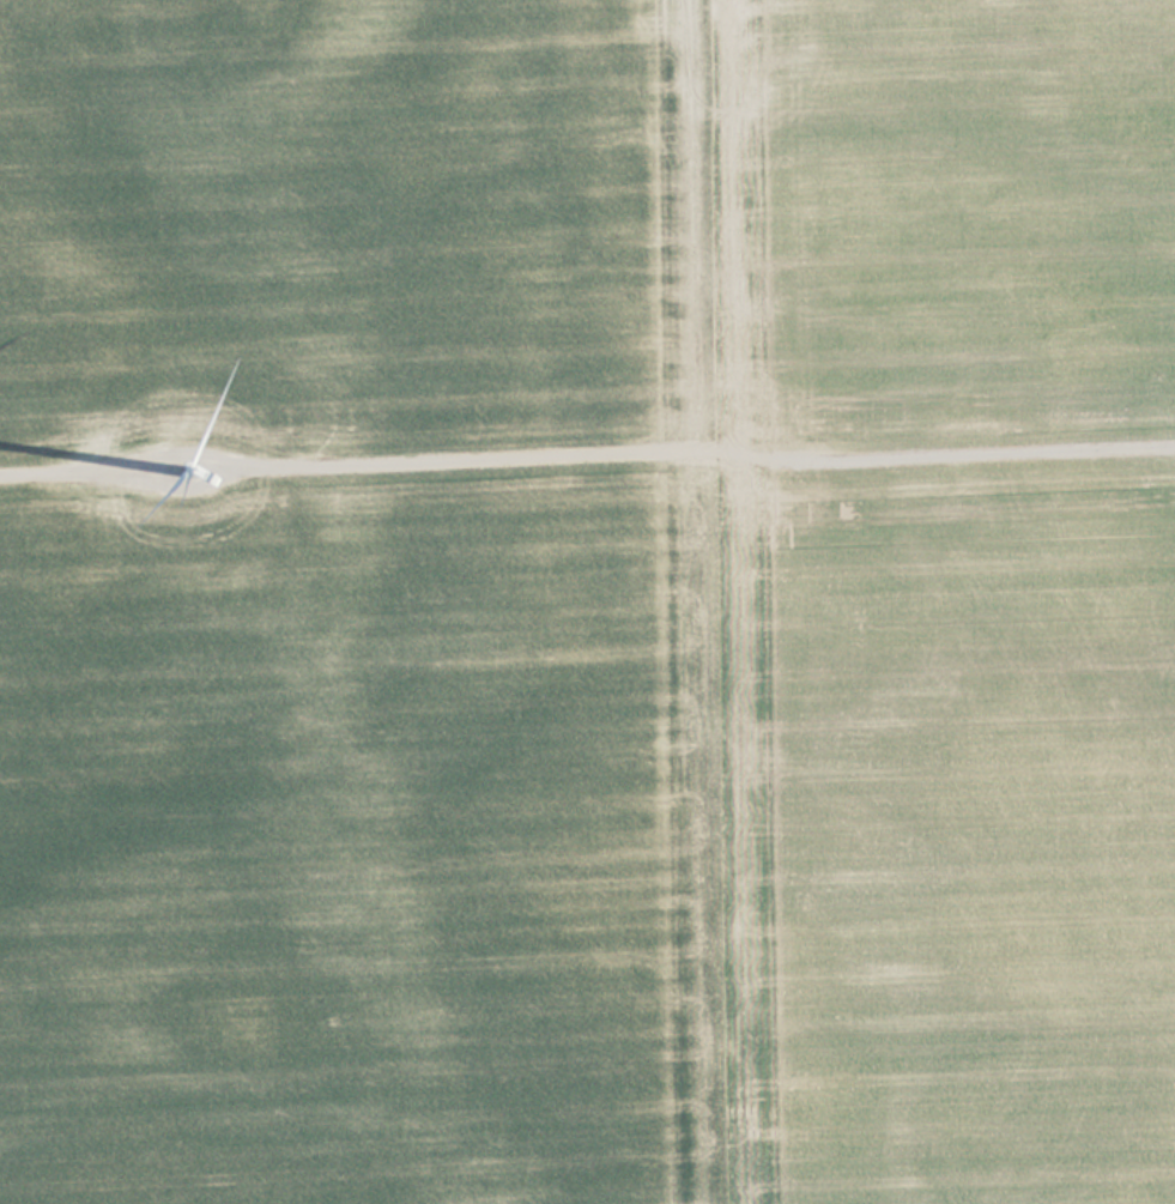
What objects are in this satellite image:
wind turbine: (206, 465)
road: (84, 477)

